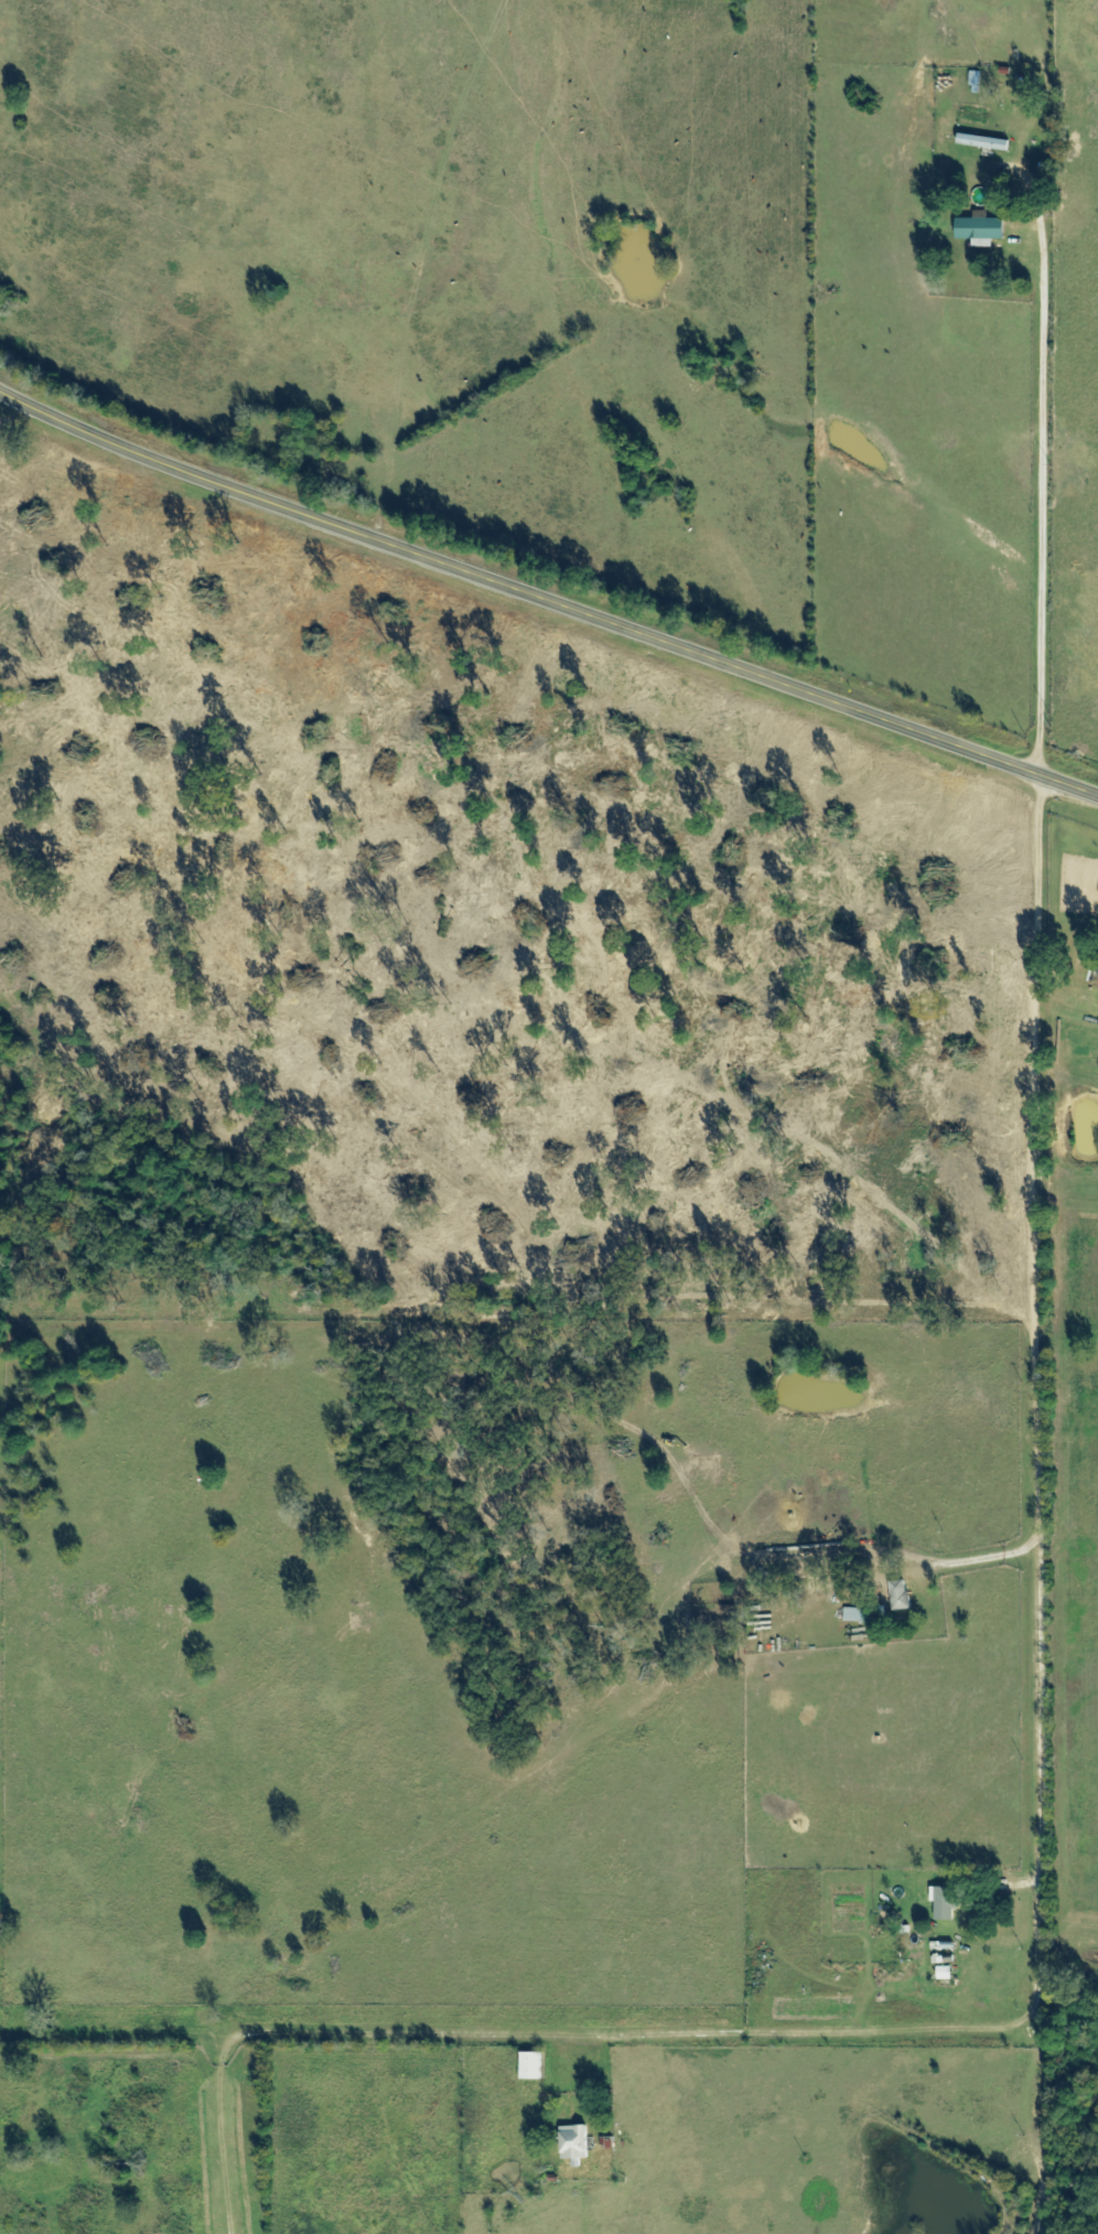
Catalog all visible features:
building: (982, 143)
building: (979, 230)
road: (1042, 465)
road: (545, 594)
building: (898, 1598)
building: (855, 1617)
road: (1045, 1697)
building: (943, 1903)
building: (943, 1974)
road: (215, 2039)
building: (530, 2066)
building: (573, 2144)

